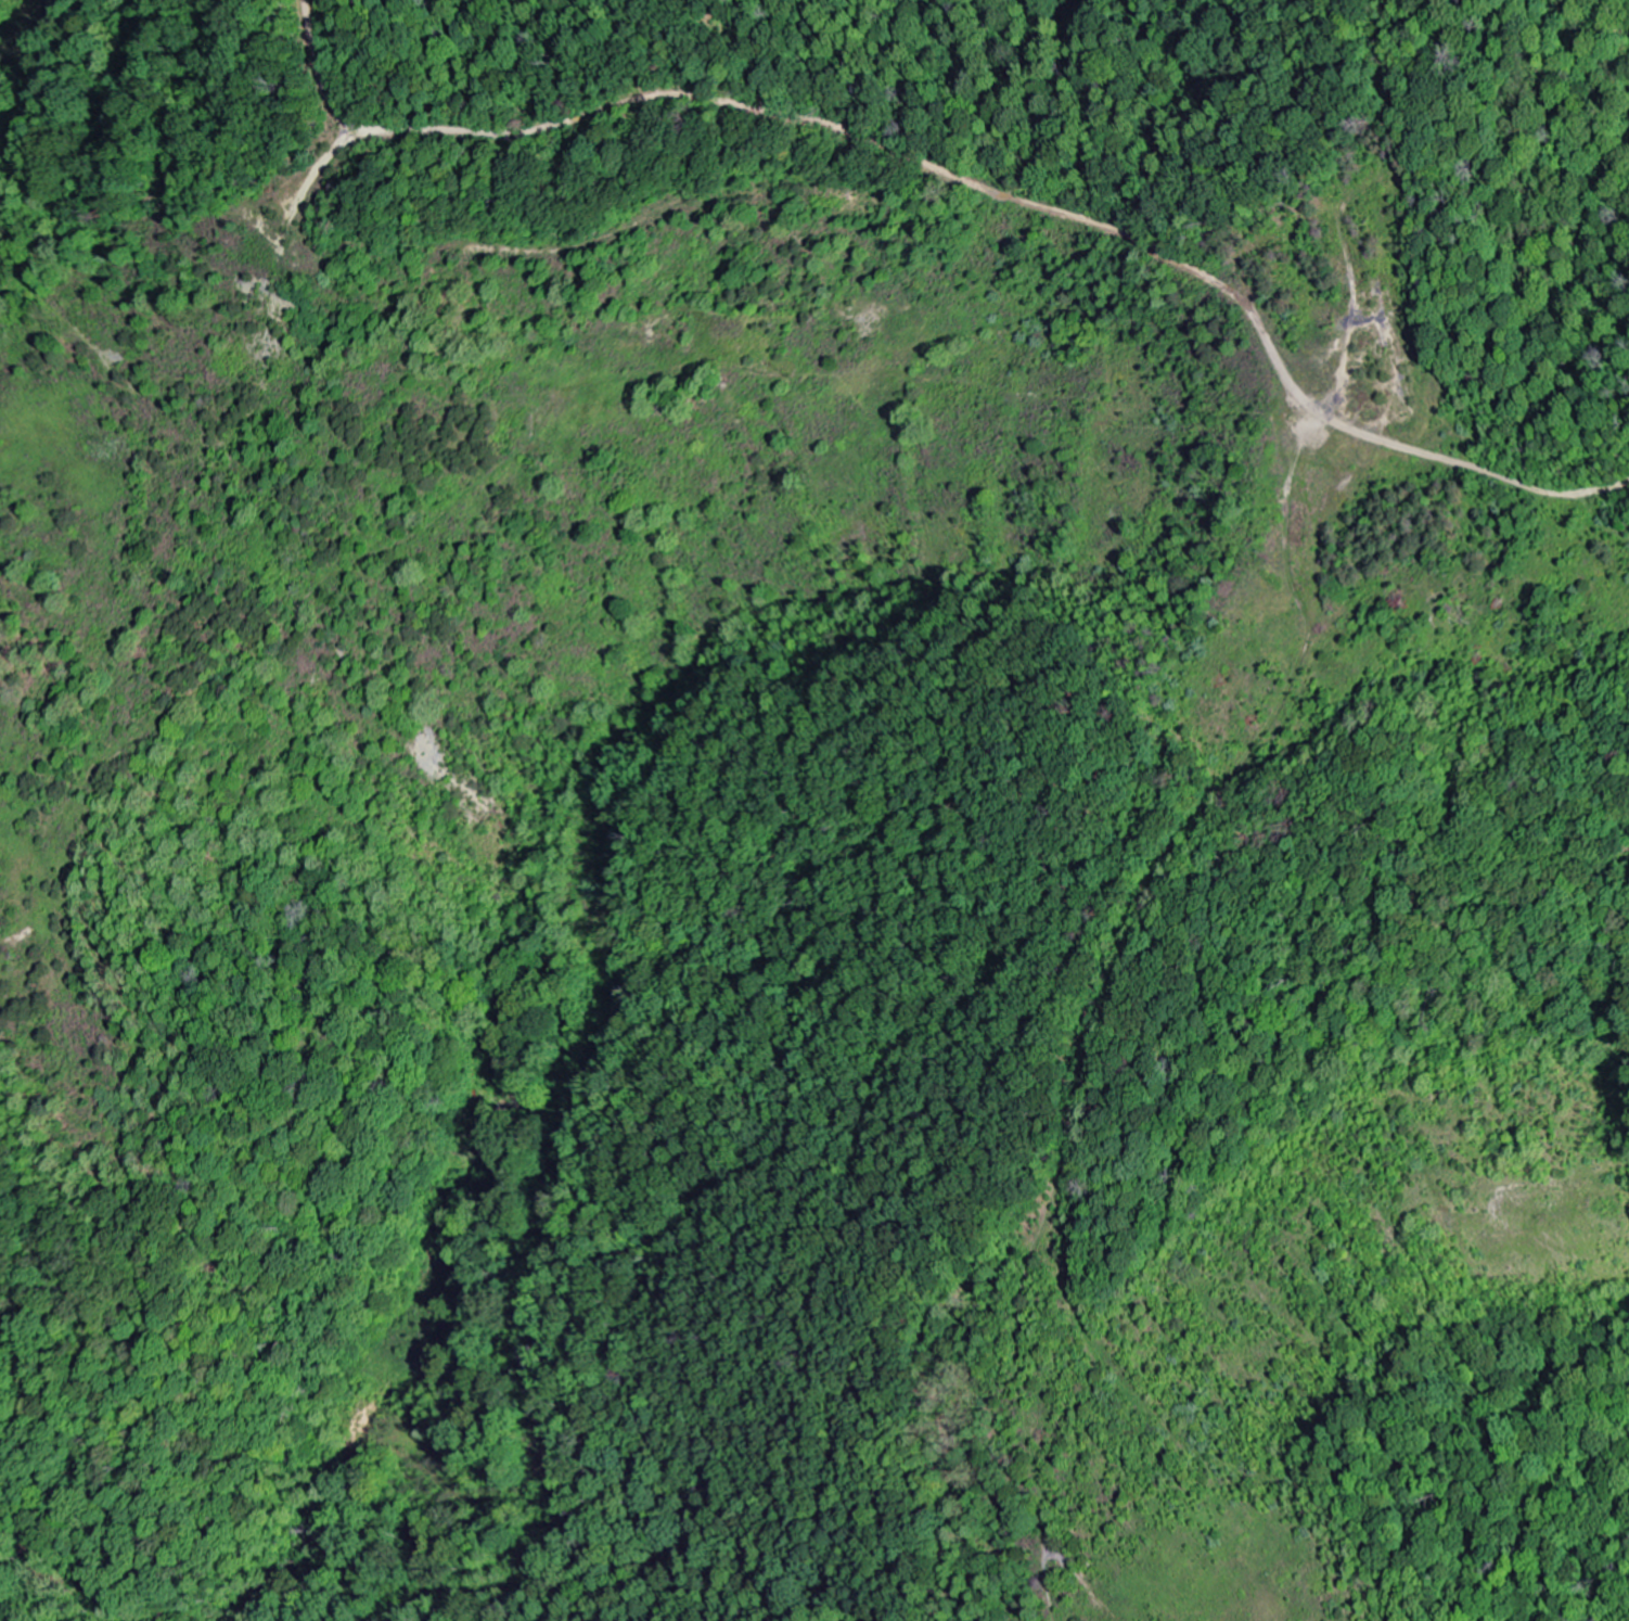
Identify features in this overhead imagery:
road: (962, 180)

